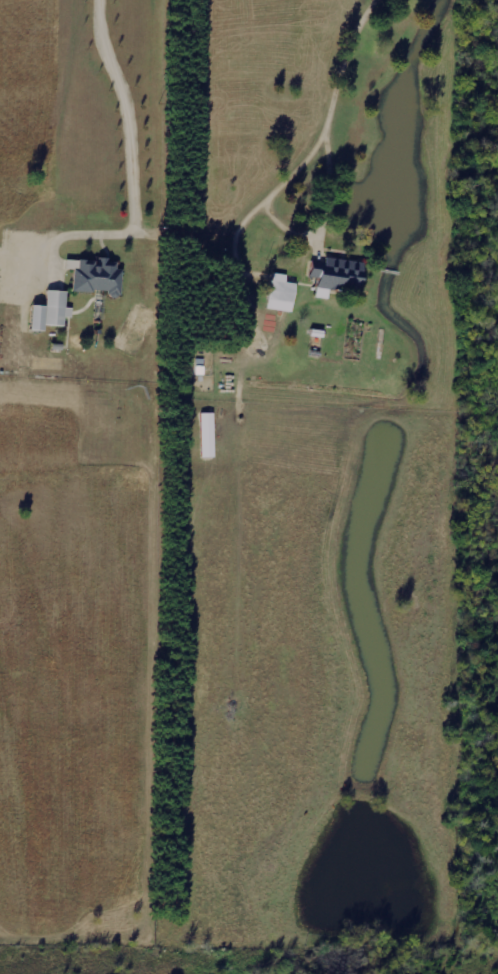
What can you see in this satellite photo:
building: (337, 275)
building: (99, 277)
building: (282, 294)
building: (57, 308)
building: (38, 318)

